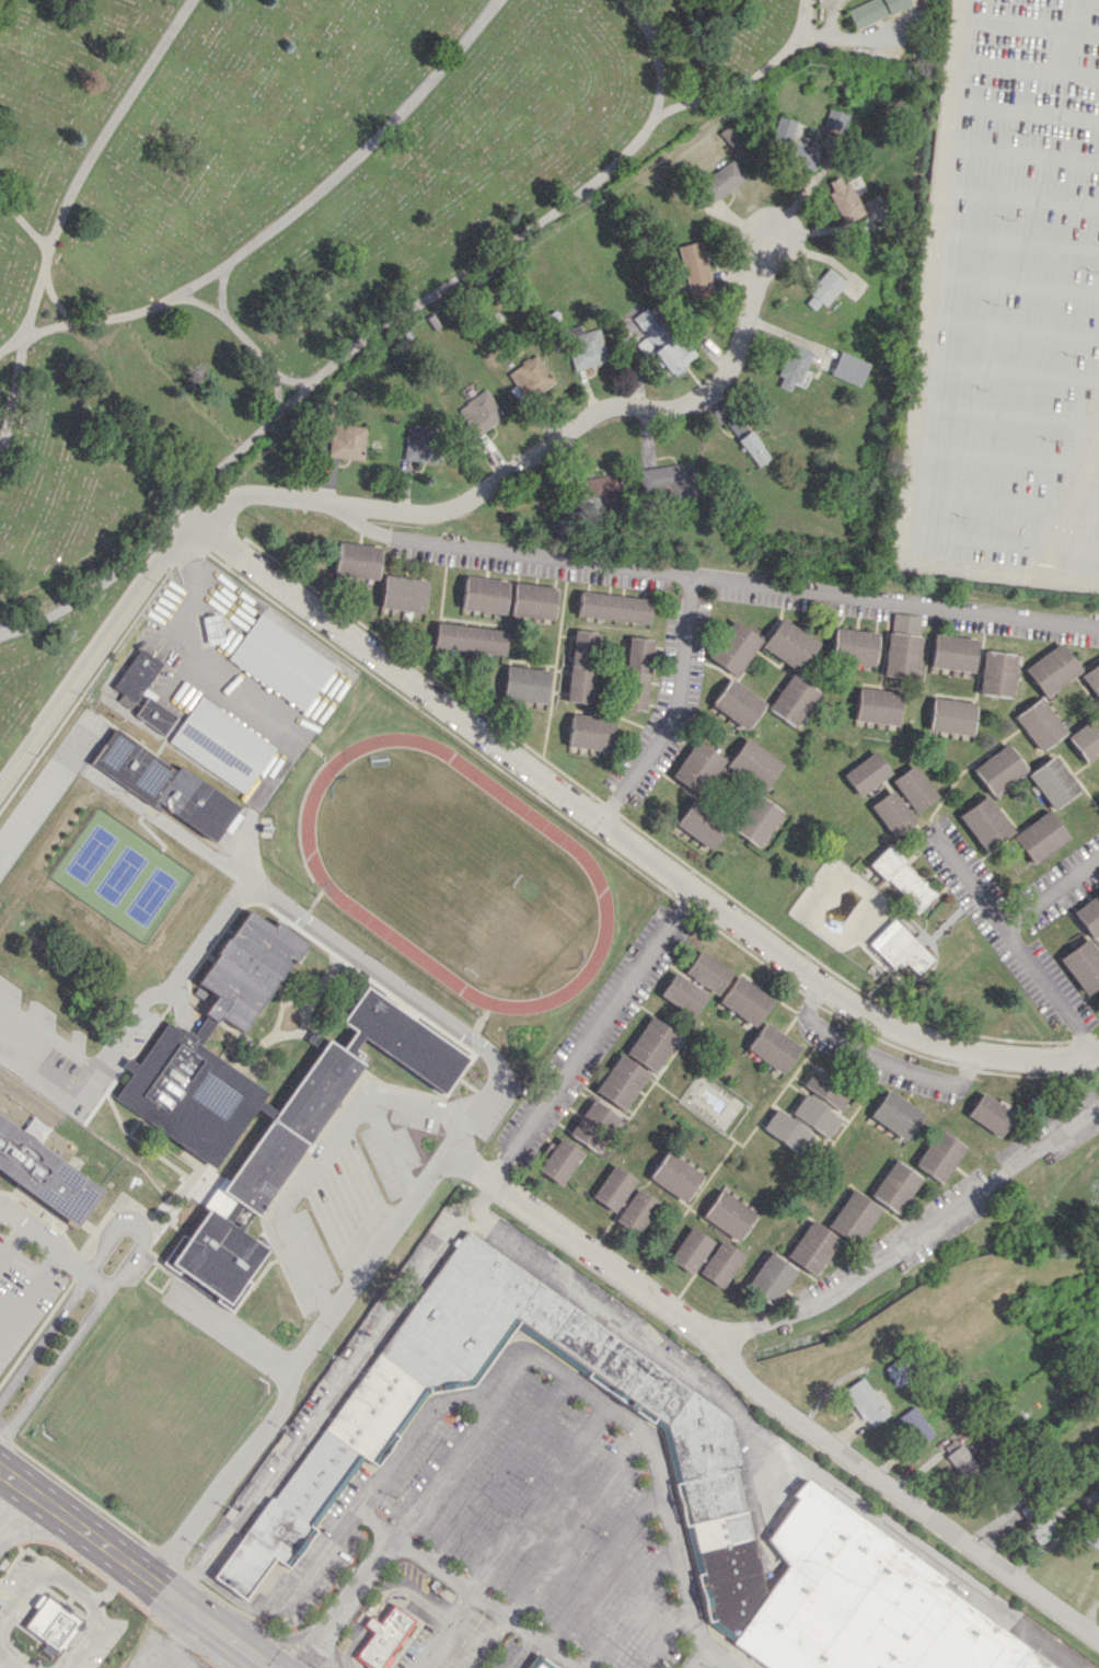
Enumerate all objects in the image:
building: (874, 10)
road: (1029, 28)
road: (1027, 66)
road: (749, 80)
road: (1025, 111)
building: (835, 119)
building: (732, 137)
building: (793, 145)
road: (1022, 154)
road: (90, 160)
building: (720, 181)
road: (1019, 197)
building: (843, 199)
road: (290, 212)
park: (290, 225)
road: (1017, 241)
building: (695, 268)
road: (1015, 283)
building: (823, 289)
road: (54, 295)
parking lot: (1009, 309)
road: (223, 315)
road: (1013, 325)
road: (372, 334)
building: (661, 343)
road: (12, 344)
road: (250, 344)
building: (585, 346)
building: (794, 367)
building: (848, 368)
road: (1010, 368)
road: (275, 372)
building: (531, 377)
road: (918, 379)
road: (14, 392)
building: (481, 412)
road: (1007, 413)
building: (737, 425)
building: (347, 440)
building: (421, 444)
building: (753, 448)
road: (1005, 457)
building: (666, 480)
building: (600, 490)
road: (1002, 501)
road: (1072, 502)
road: (384, 511)
road: (999, 545)
building: (357, 561)
road: (709, 578)
building: (403, 593)
building: (484, 594)
building: (533, 600)
building: (614, 606)
building: (213, 629)
building: (468, 637)
building: (790, 644)
building: (855, 645)
building: (903, 645)
building: (736, 647)
building: (953, 652)
building: (280, 660)
building: (582, 666)
building: (1053, 668)
building: (637, 672)
building: (997, 672)
building: (1092, 678)
building: (137, 679)
building: (524, 683)
building: (794, 698)
building: (739, 703)
road: (253, 704)
building: (879, 704)
road: (673, 710)
building: (155, 714)
building: (952, 715)
building: (1041, 723)
building: (592, 731)
building: (1086, 738)
building: (222, 744)
building: (754, 763)
building: (697, 767)
building: (1000, 769)
building: (868, 772)
building: (1053, 781)
building: (163, 784)
building: (915, 787)
road: (42, 798)
building: (893, 813)
building: (756, 819)
building: (985, 823)
building: (701, 824)
building: (1041, 837)
road: (629, 845)
park: (450, 865)
track: (592, 873)
building: (903, 878)
road: (1052, 895)
building: (1089, 914)
road: (1016, 945)
building: (900, 947)
building: (1083, 965)
building: (707, 971)
building: (682, 994)
building: (745, 1000)
road: (588, 1032)
building: (177, 1040)
road: (476, 1043)
building: (651, 1044)
building: (773, 1047)
road: (878, 1056)
building: (621, 1081)
building: (824, 1086)
building: (895, 1114)
building: (990, 1114)
building: (814, 1115)
building: (592, 1124)
building: (785, 1130)
building: (301, 1139)
road: (321, 1153)
building: (939, 1154)
building: (559, 1161)
building: (44, 1173)
building: (675, 1175)
building: (895, 1185)
building: (613, 1187)
building: (637, 1211)
building: (729, 1215)
building: (853, 1217)
road: (932, 1222)
road: (11, 1241)
road: (138, 1243)
building: (811, 1247)
building: (691, 1249)
road: (53, 1250)
building: (720, 1263)
building: (770, 1278)
parking lot: (22, 1292)
road: (30, 1298)
road: (578, 1299)
road: (232, 1332)
building: (899, 1371)
road: (508, 1377)
building: (865, 1402)
road: (787, 1414)
building: (914, 1425)
building: (352, 1442)
building: (960, 1459)
road: (446, 1462)
road: (499, 1472)
building: (1005, 1494)
road: (13, 1504)
road: (572, 1526)
parking lot: (518, 1528)
building: (1043, 1529)
road: (511, 1537)
road: (135, 1566)
road: (601, 1567)
road: (41, 1568)
road: (111, 1581)
road: (463, 1590)
road: (345, 1601)
road: (384, 1603)
road: (628, 1607)
building: (53, 1627)
road: (184, 1634)
road: (86, 1636)
building: (383, 1636)
road: (281, 1637)
road: (664, 1637)
road: (329, 1642)
road: (488, 1644)
road: (167, 1653)
road: (521, 1654)
road: (698, 1656)
road: (9, 1659)
building: (540, 1665)
road: (733, 1666)
parking lot: (708, 1667)

